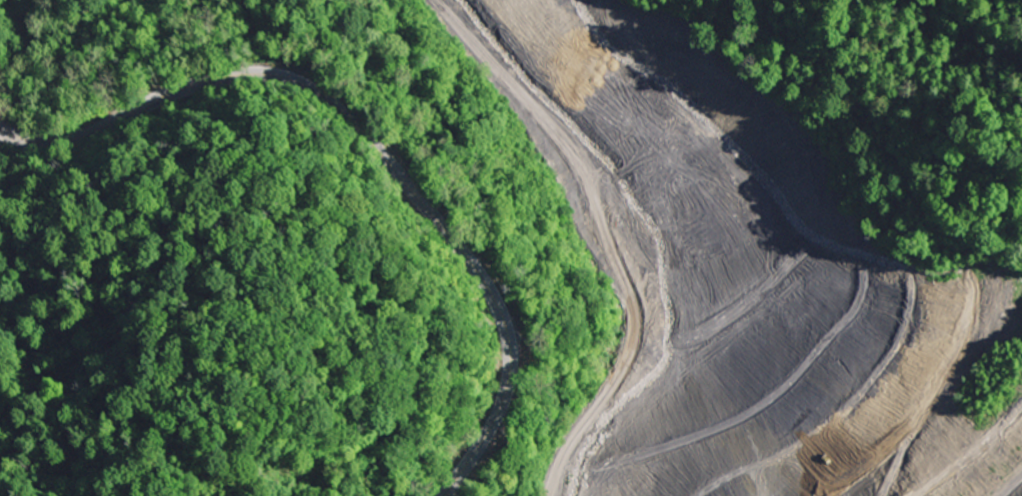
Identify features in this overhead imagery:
road: (379, 144)

